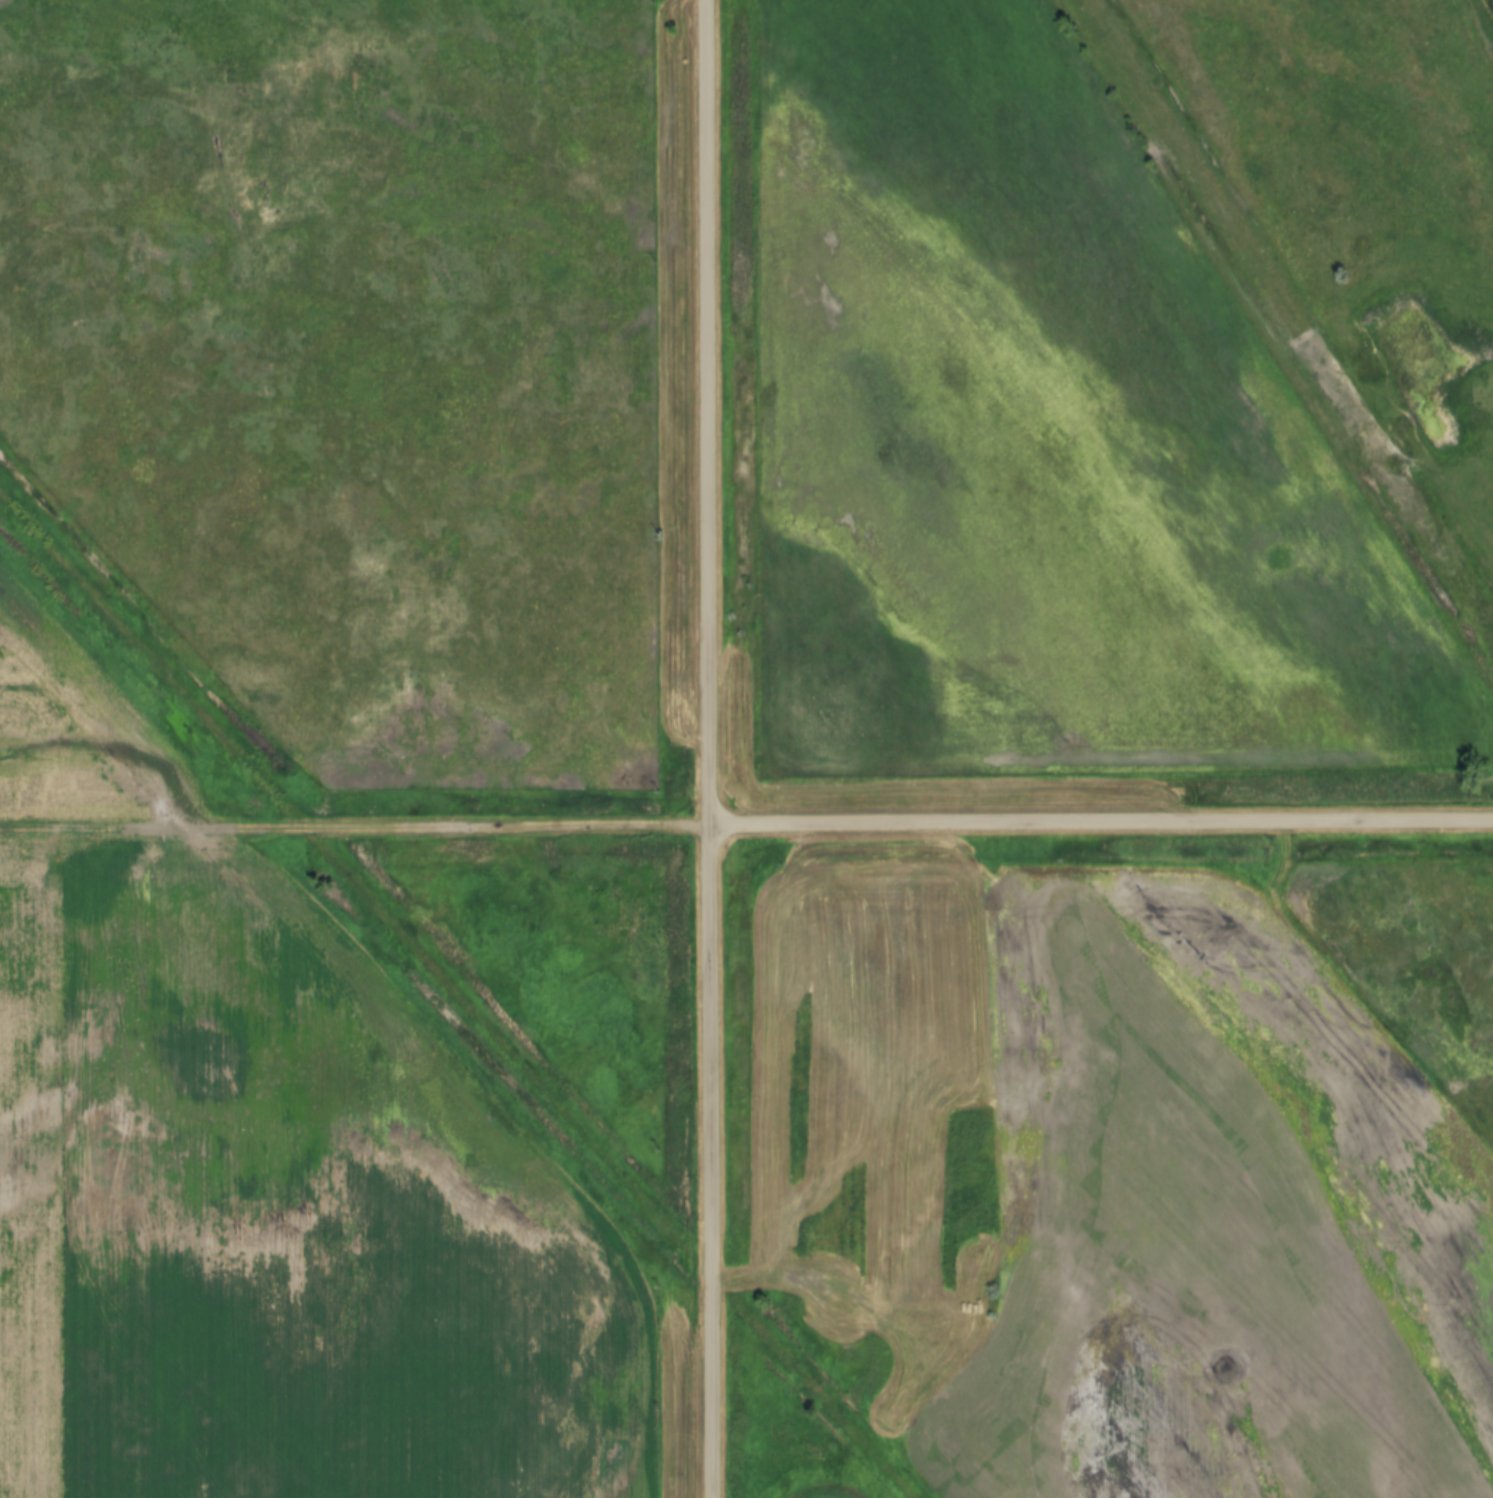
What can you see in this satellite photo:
road: (711, 748)
road: (1102, 822)
road: (356, 828)

